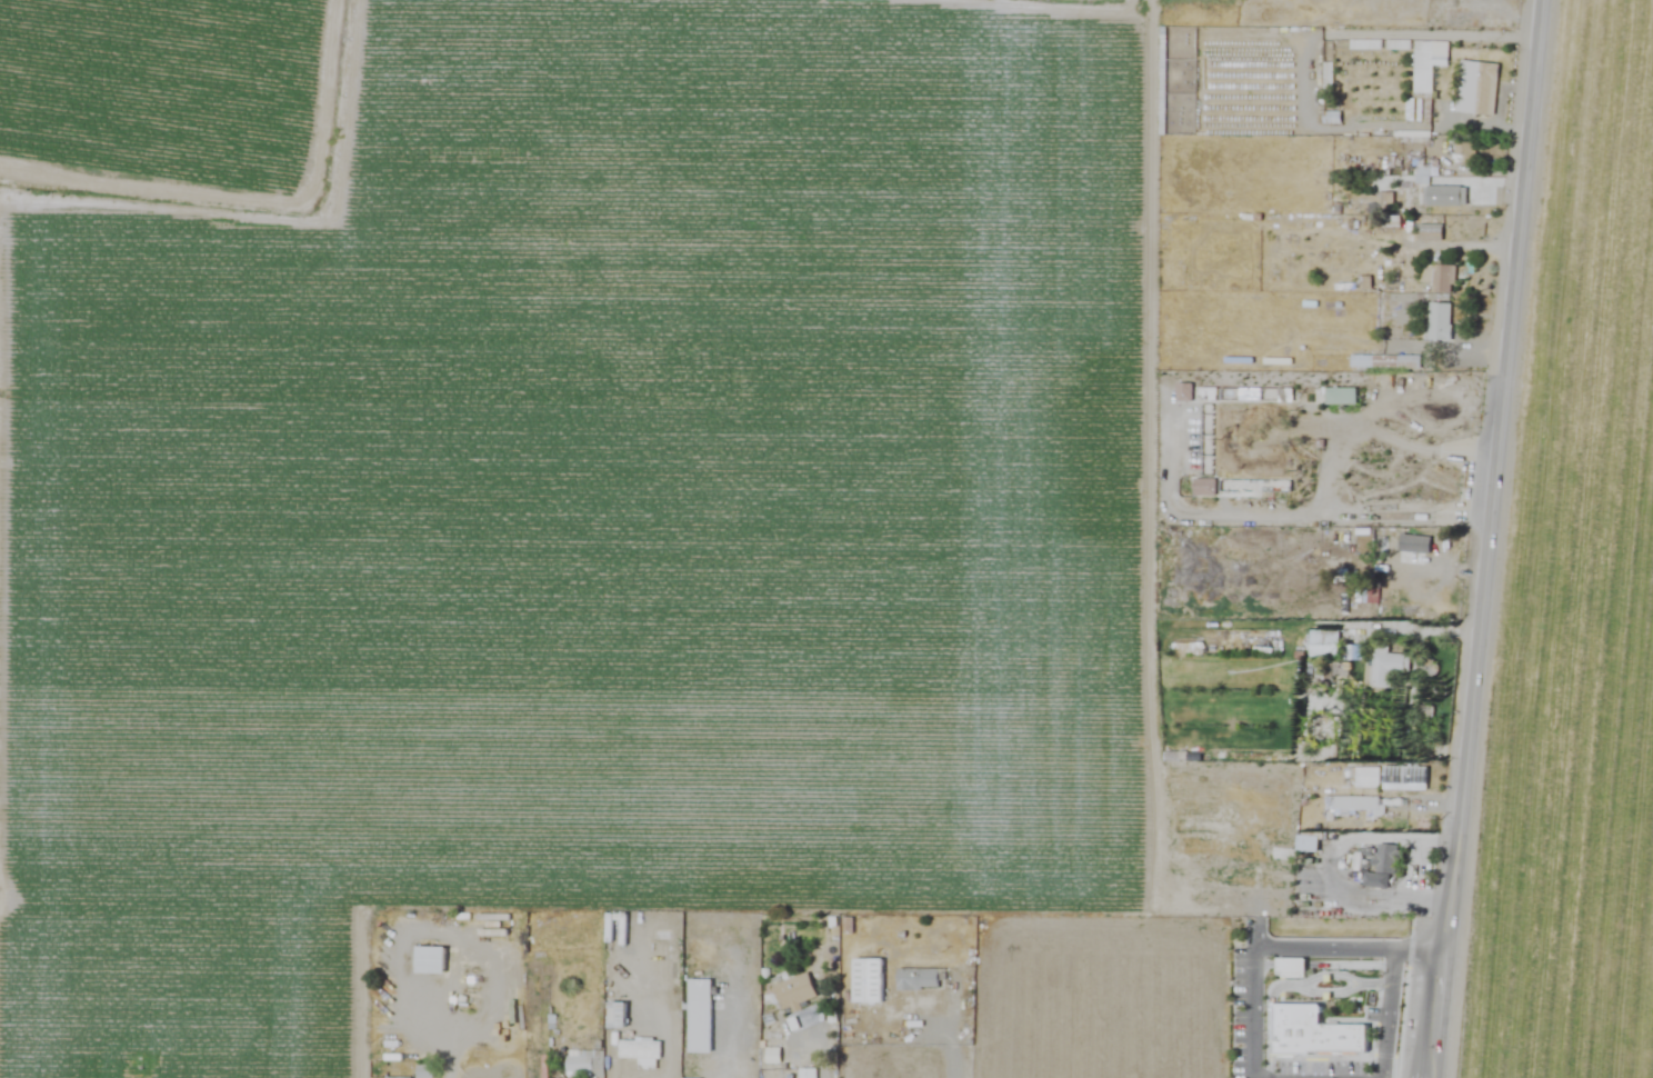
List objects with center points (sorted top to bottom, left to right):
road: (1443, 17)
building: (1426, 63)
building: (1328, 76)
building: (1475, 88)
building: (1422, 174)
building: (1374, 204)
building: (1338, 210)
building: (1472, 228)
building: (1429, 232)
building: (1437, 278)
building: (1439, 322)
building: (1339, 396)
building: (1204, 488)
road: (1491, 538)
crop: (826, 539)
building: (1413, 545)
building: (1323, 645)
building: (1386, 666)
building: (1366, 778)
building: (1404, 778)
building: (1382, 867)
road: (1285, 940)
building: (428, 960)
building: (1293, 962)
building: (918, 979)
building: (866, 981)
building: (793, 992)
road: (722, 1009)
building: (615, 1015)
building: (699, 1016)
building: (1314, 1028)
road: (950, 1041)
building: (641, 1052)
building: (584, 1061)
building: (807, 1074)

